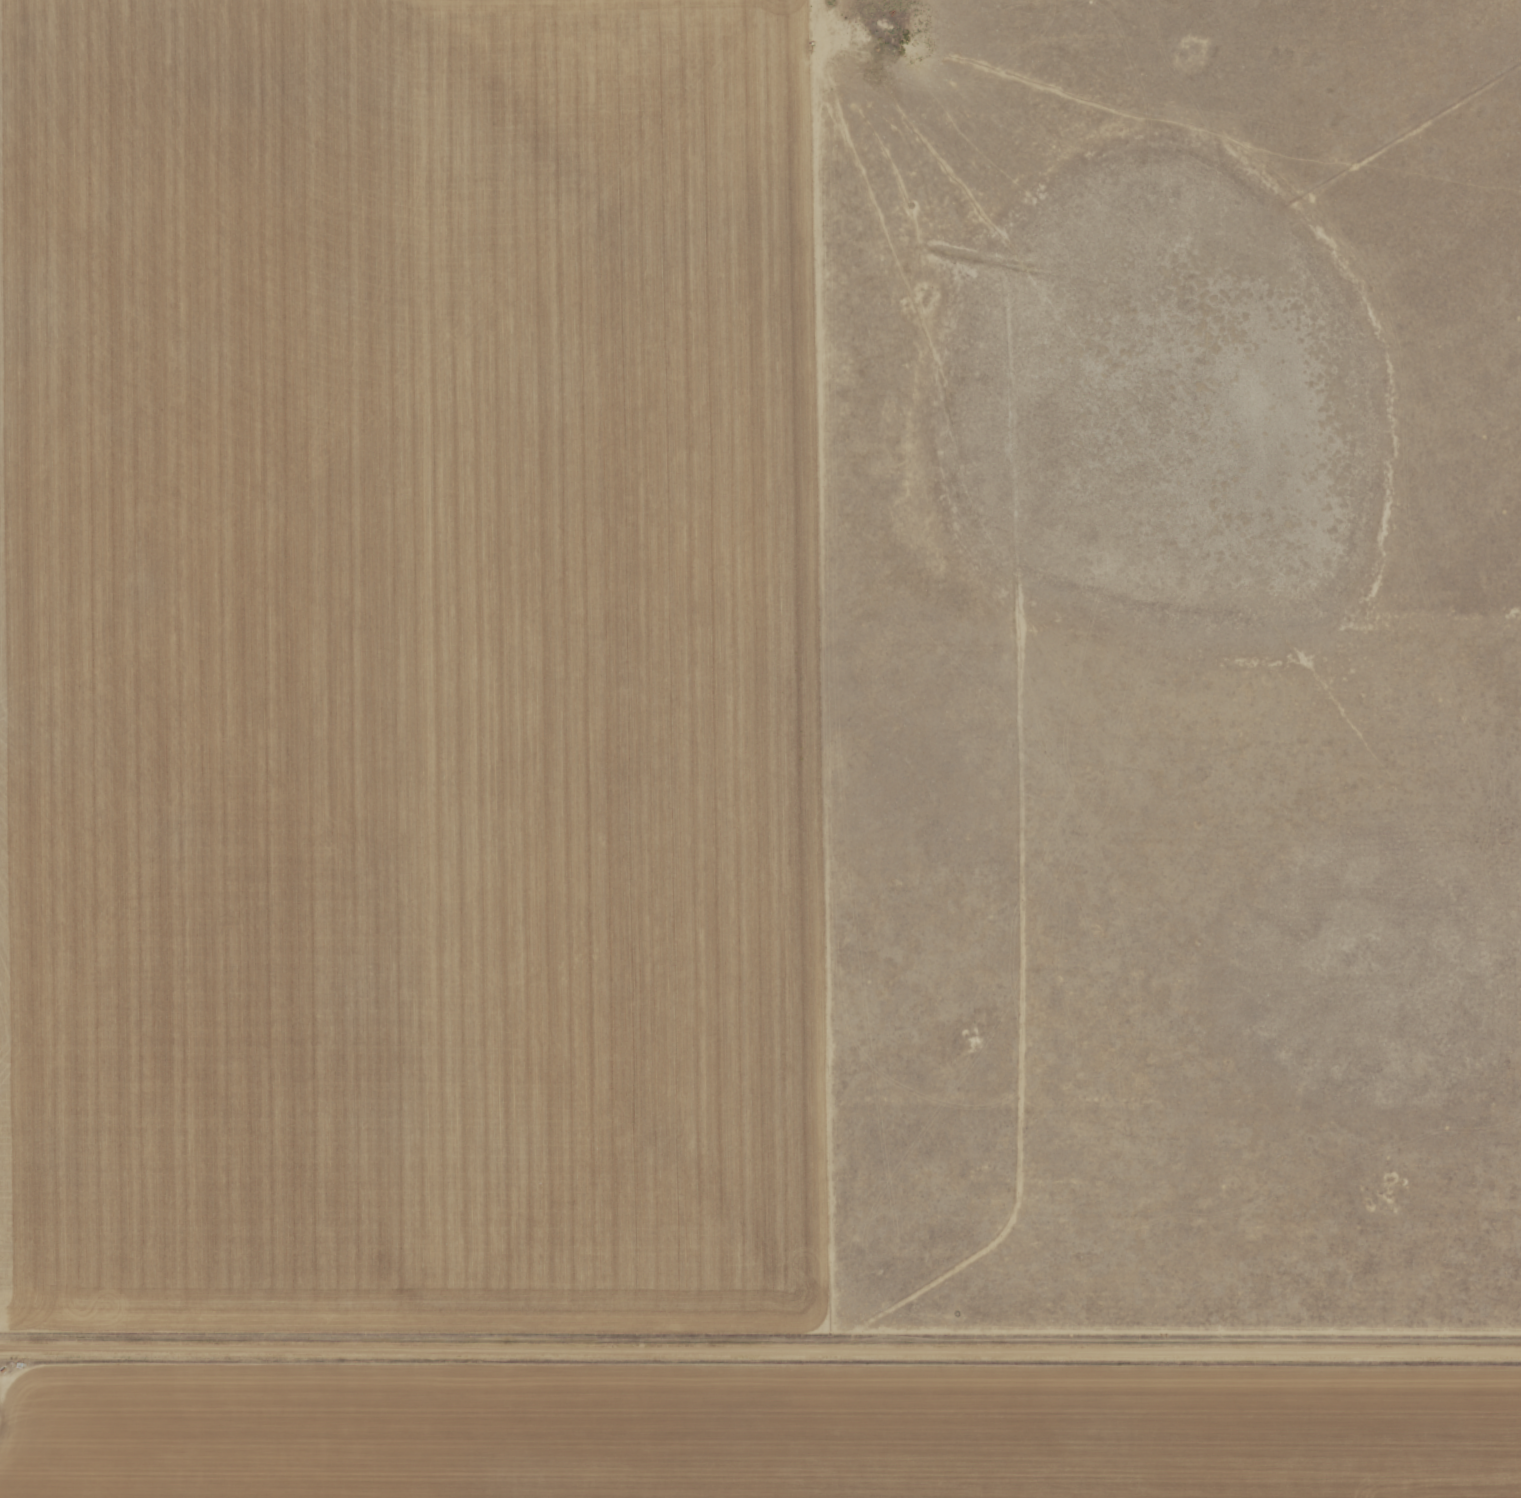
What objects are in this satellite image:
road: (760, 1352)

